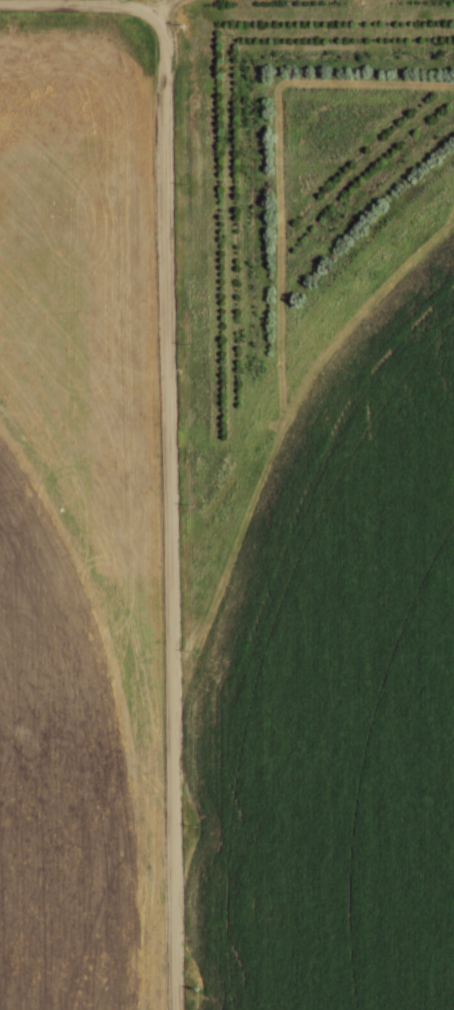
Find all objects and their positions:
road: (90, 2)
road: (169, 512)
crop: (77, 524)
crop: (336, 693)

